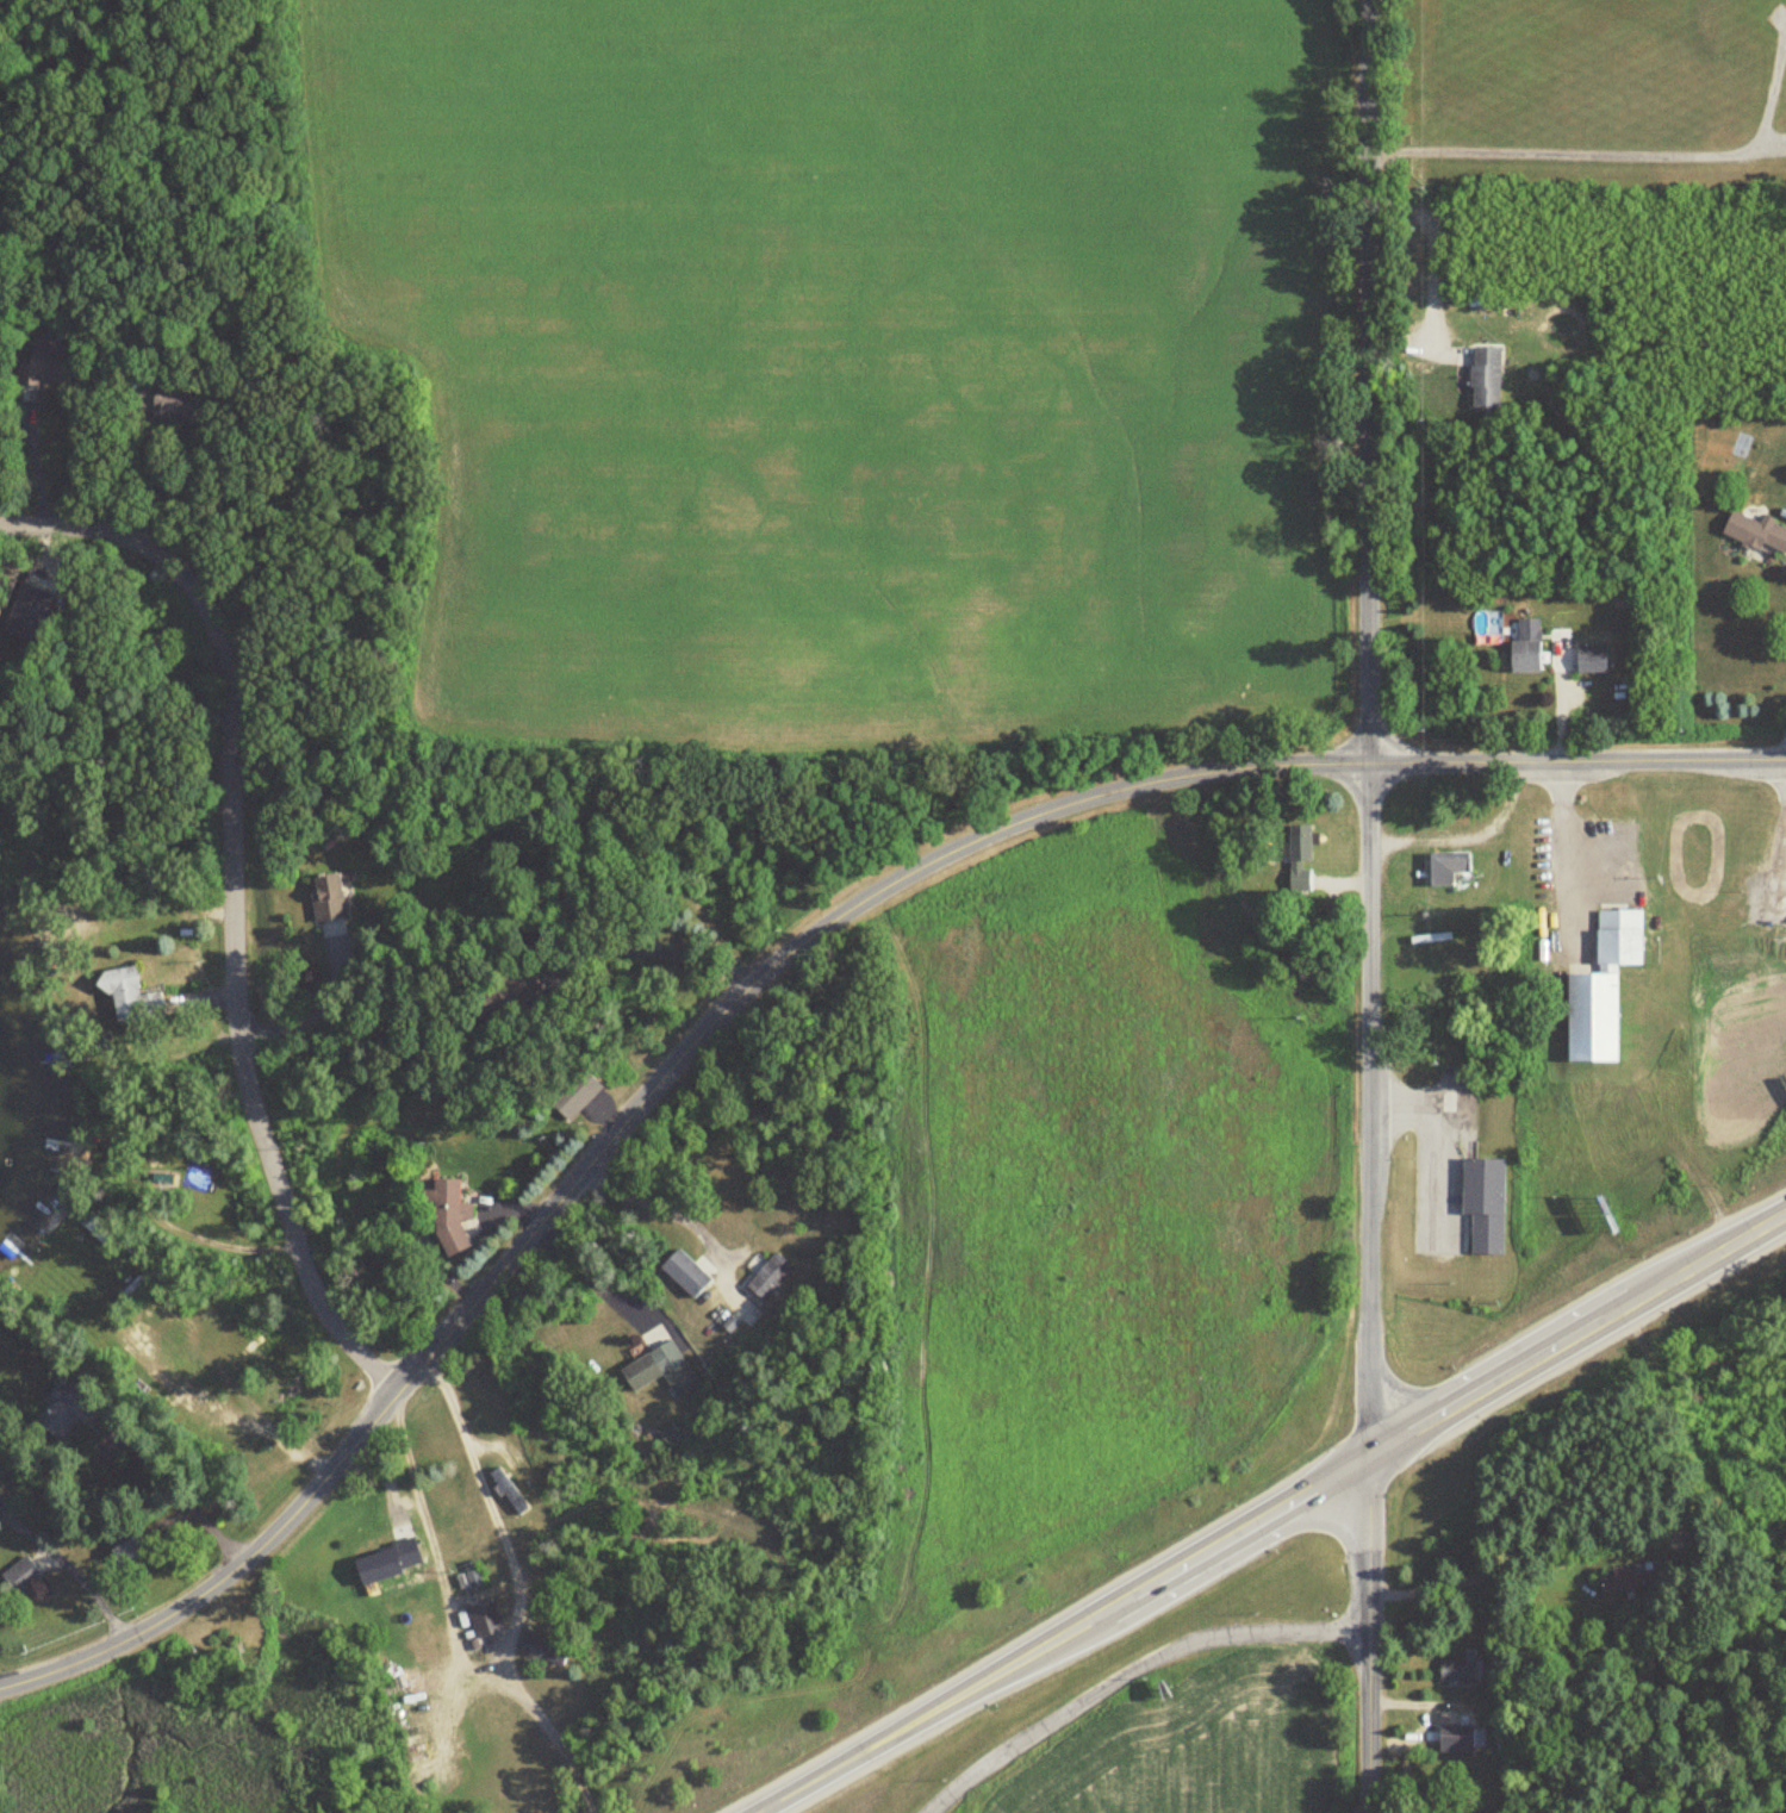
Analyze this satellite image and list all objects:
road: (1618, 156)
road: (1427, 260)
building: (55, 366)
building: (1482, 376)
building: (172, 404)
road: (160, 478)
building: (1754, 532)
building: (1523, 647)
building: (1588, 659)
road: (1785, 746)
road: (1785, 772)
road: (1562, 855)
building: (1298, 856)
building: (1448, 868)
road: (232, 898)
building: (335, 898)
road: (1368, 905)
road: (649, 949)
road: (767, 971)
building: (1599, 989)
building: (136, 996)
building: (572, 1096)
road: (1438, 1135)
building: (1481, 1203)
road: (653, 1205)
building: (458, 1215)
building: (108, 1235)
building: (690, 1273)
building: (771, 1276)
road: (589, 1277)
road: (1577, 1335)
building: (660, 1367)
building: (74, 1410)
building: (2, 1454)
building: (511, 1491)
road: (185, 1503)
building: (132, 1549)
road: (436, 1557)
building: (392, 1563)
road: (67, 1572)
road: (1491, 1574)
building: (474, 1575)
building: (25, 1576)
building: (1611, 1583)
road: (519, 1587)
building: (487, 1620)
road: (1063, 1634)
building: (544, 1646)
road: (1130, 1670)
building: (1455, 1671)
building: (1452, 1739)

